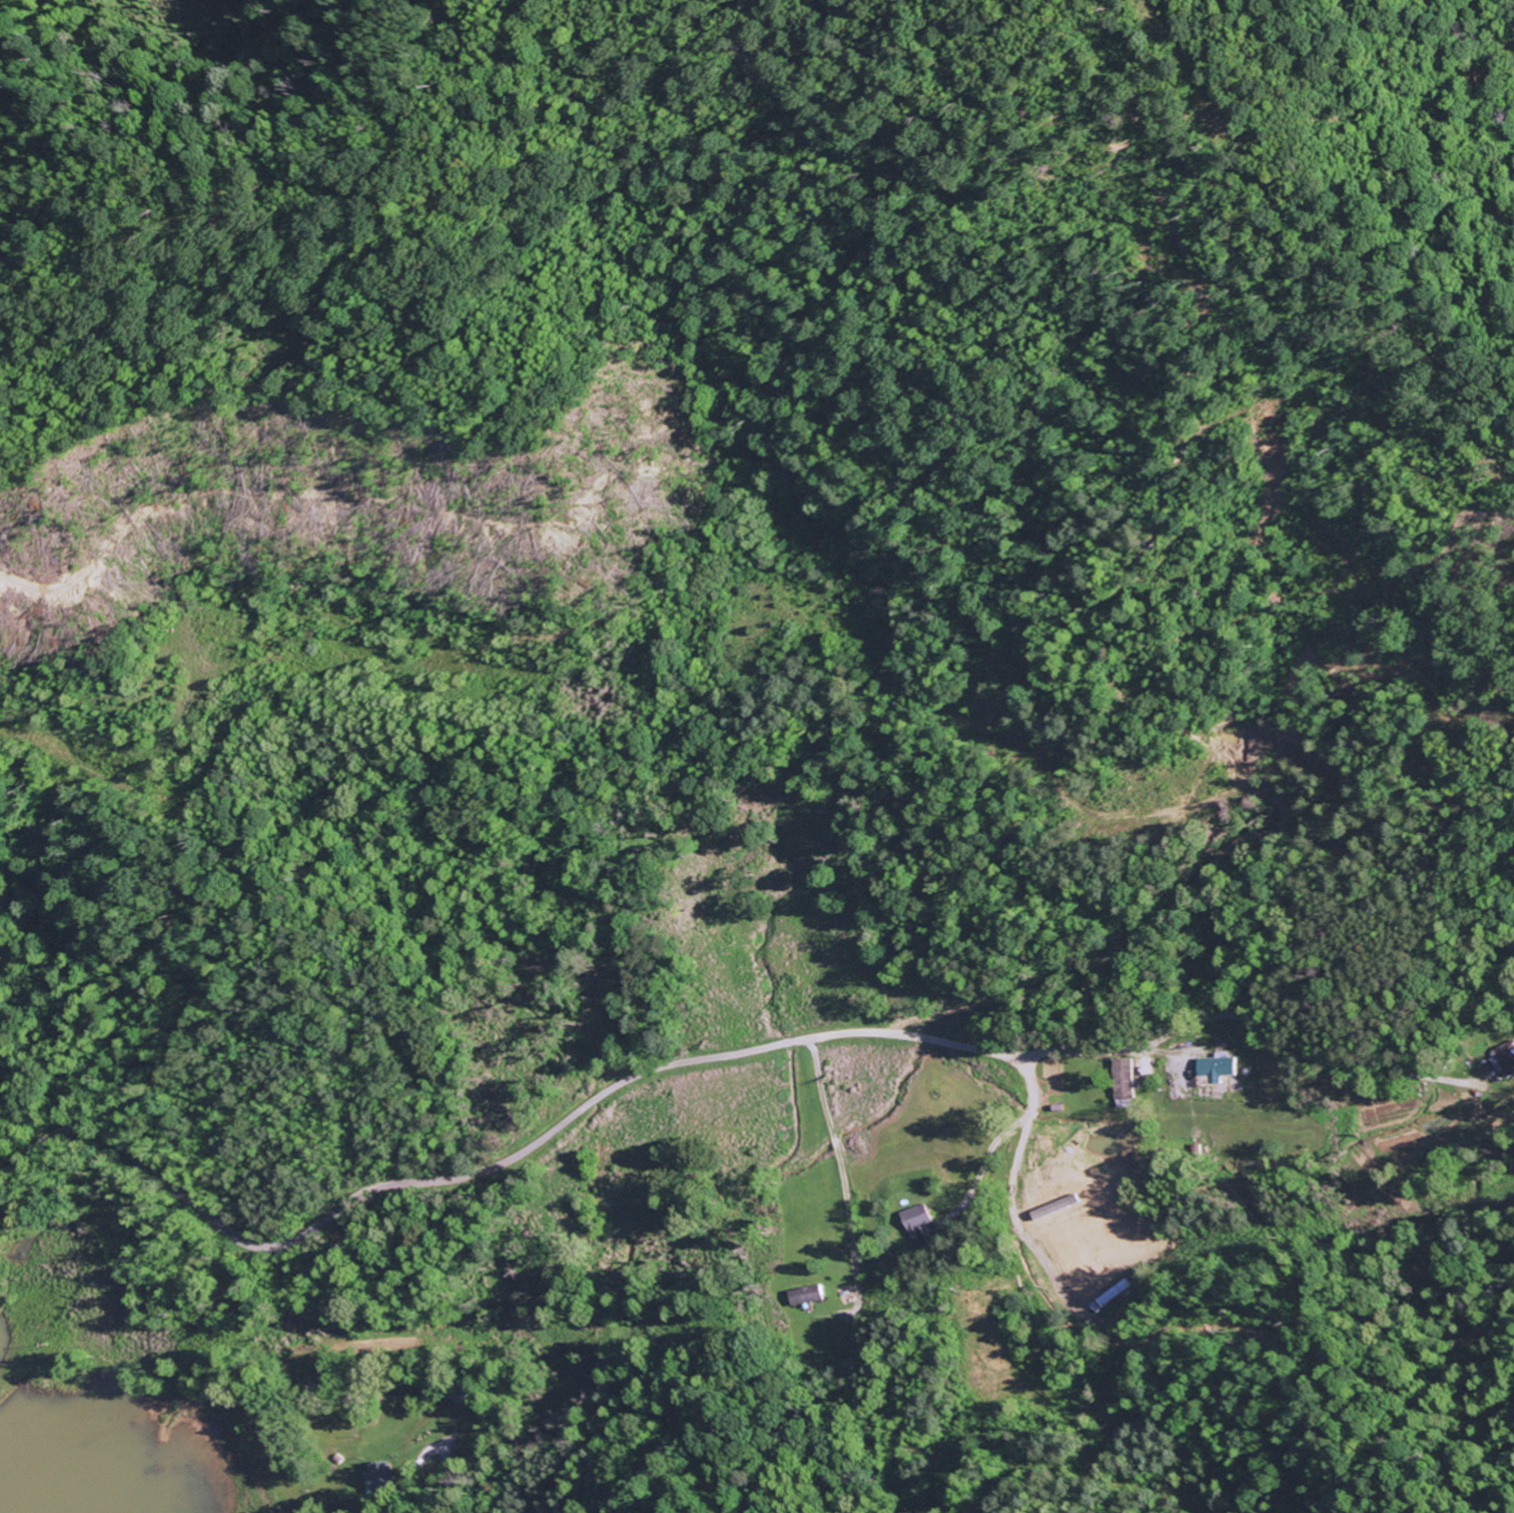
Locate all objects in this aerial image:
road: (692, 1059)
building: (1503, 1059)
building: (1218, 1070)
building: (1128, 1079)
road: (983, 1158)
building: (918, 1218)
building: (810, 1295)

